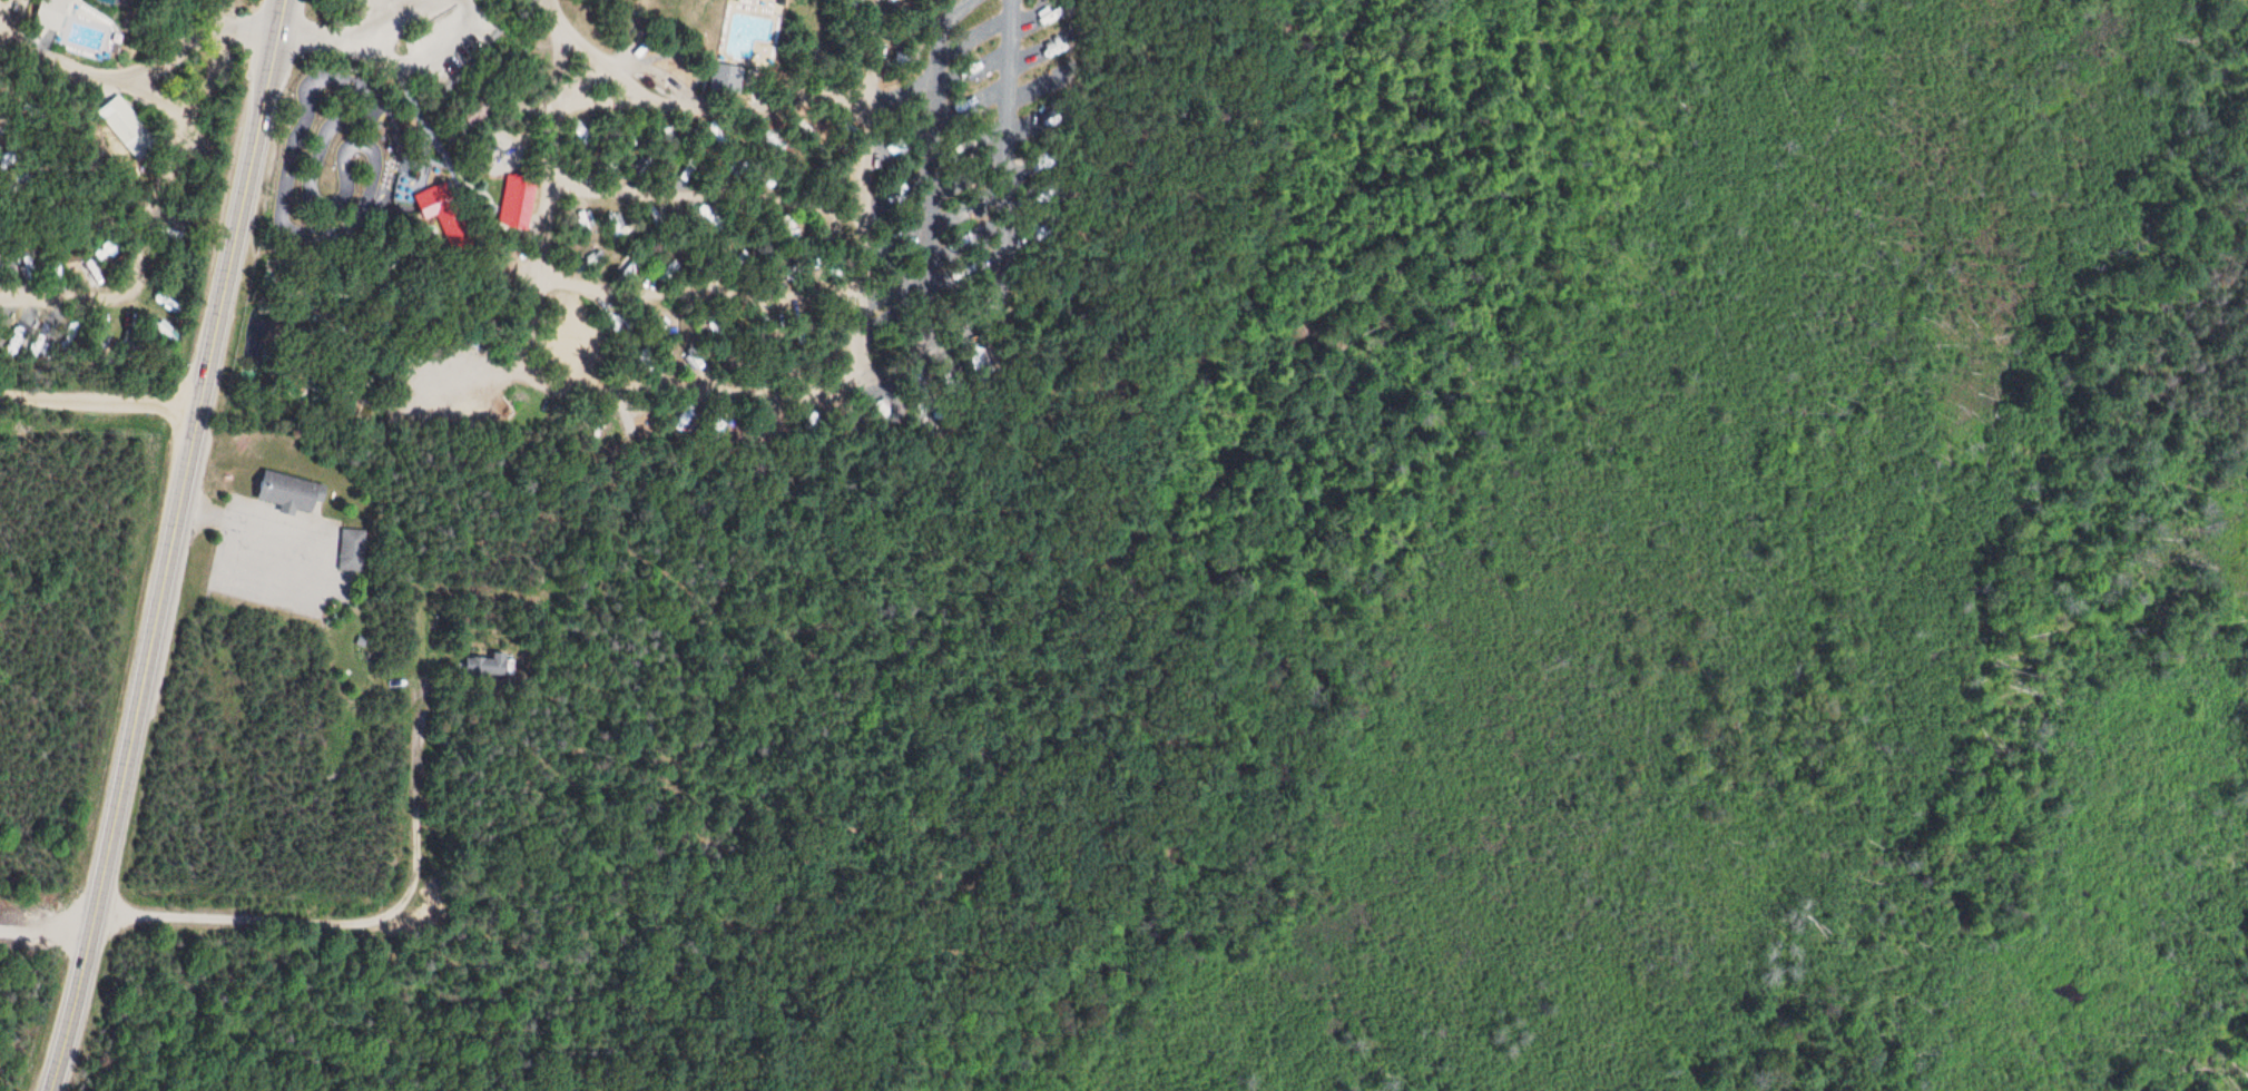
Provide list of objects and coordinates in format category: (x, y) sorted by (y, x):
building: (47, 12)
road: (353, 31)
road: (11, 35)
road: (199, 43)
road: (876, 45)
road: (67, 70)
road: (685, 105)
building: (124, 124)
raceway: (344, 166)
road: (932, 185)
building: (513, 200)
road: (705, 200)
road: (147, 238)
building: (106, 252)
road: (576, 284)
building: (158, 296)
building: (661, 322)
road: (976, 386)
road: (96, 399)
building: (438, 411)
building: (285, 491)
road: (164, 548)
building: (349, 549)
building: (480, 664)

